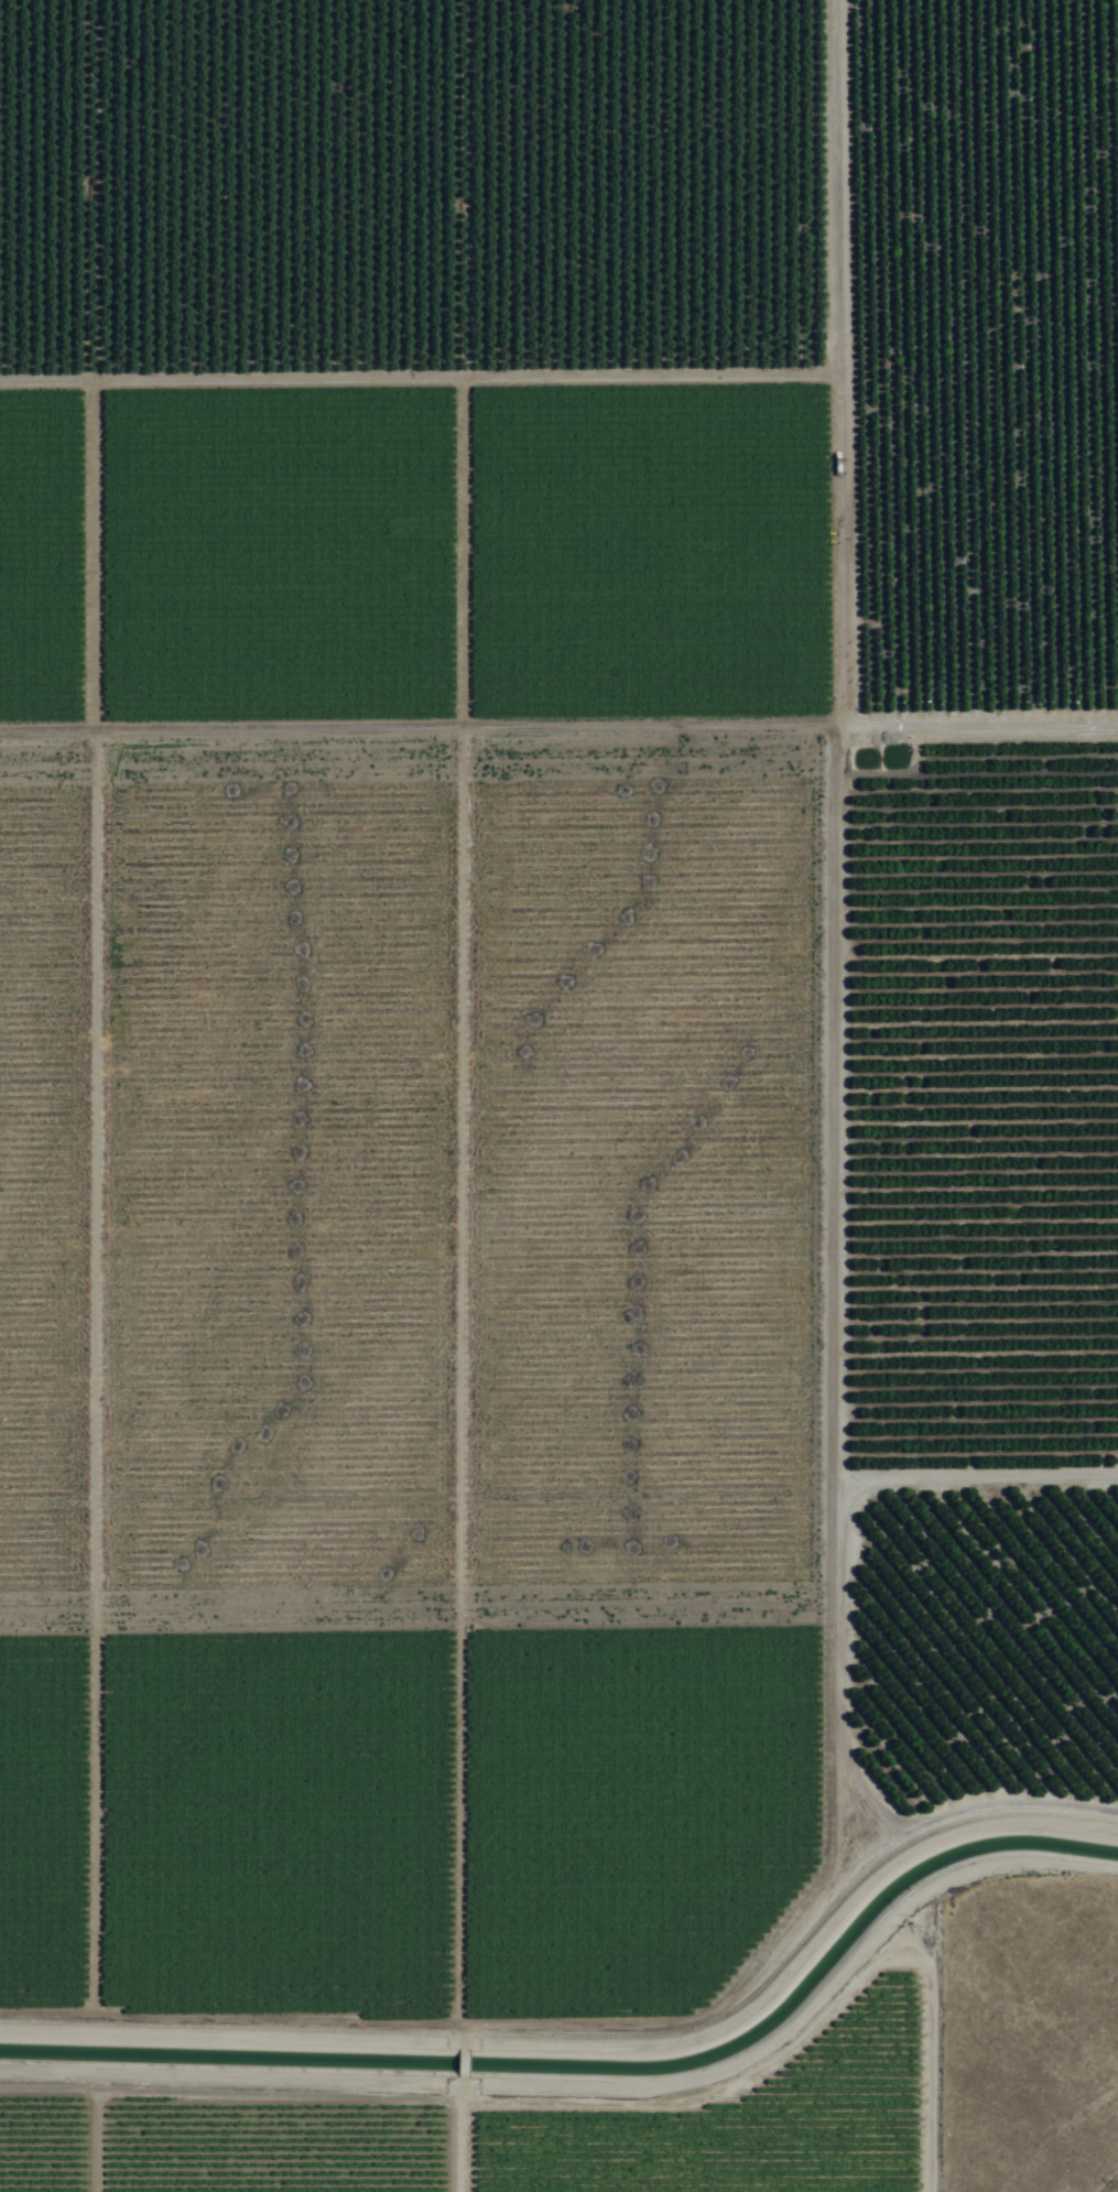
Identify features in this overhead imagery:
road: (558, 696)
wastewater plant: (886, 768)
crop: (542, 1063)

